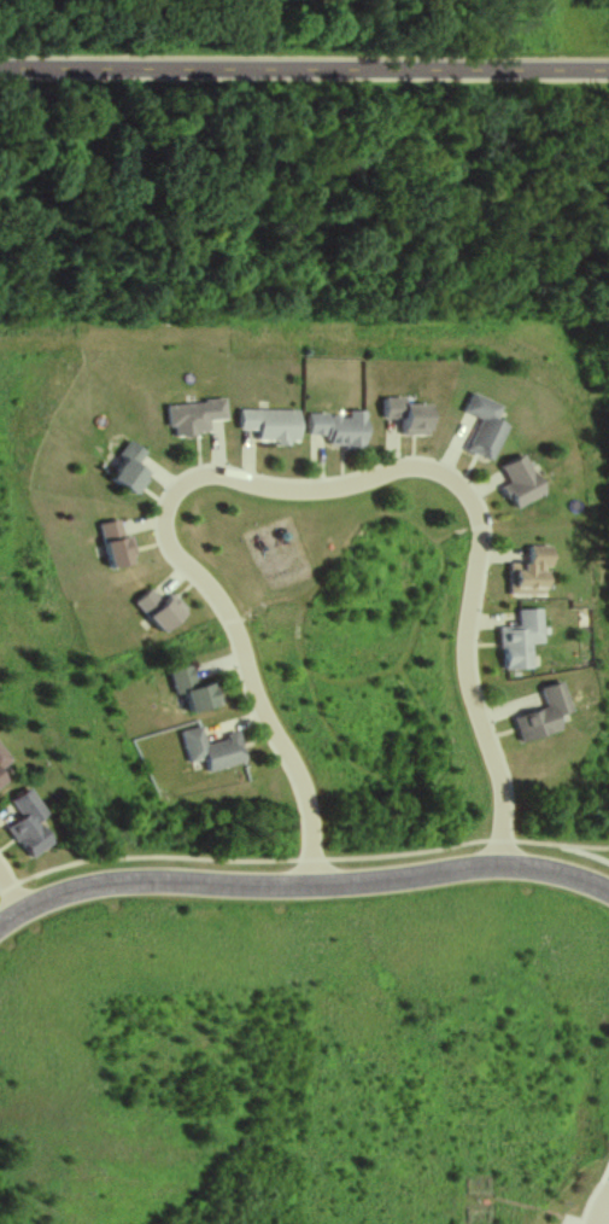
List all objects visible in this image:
park: (305, 34)
road: (304, 69)
building: (192, 416)
building: (406, 416)
building: (267, 422)
building: (335, 427)
building: (481, 427)
building: (125, 467)
building: (516, 482)
road: (297, 490)
building: (110, 543)
building: (526, 572)
building: (151, 608)
building: (517, 639)
building: (191, 690)
building: (540, 713)
building: (210, 748)
building: (2, 758)
building: (1, 780)
building: (28, 823)
road: (301, 886)
road: (10, 891)
road: (604, 1203)
road: (604, 1214)
road: (598, 1218)

